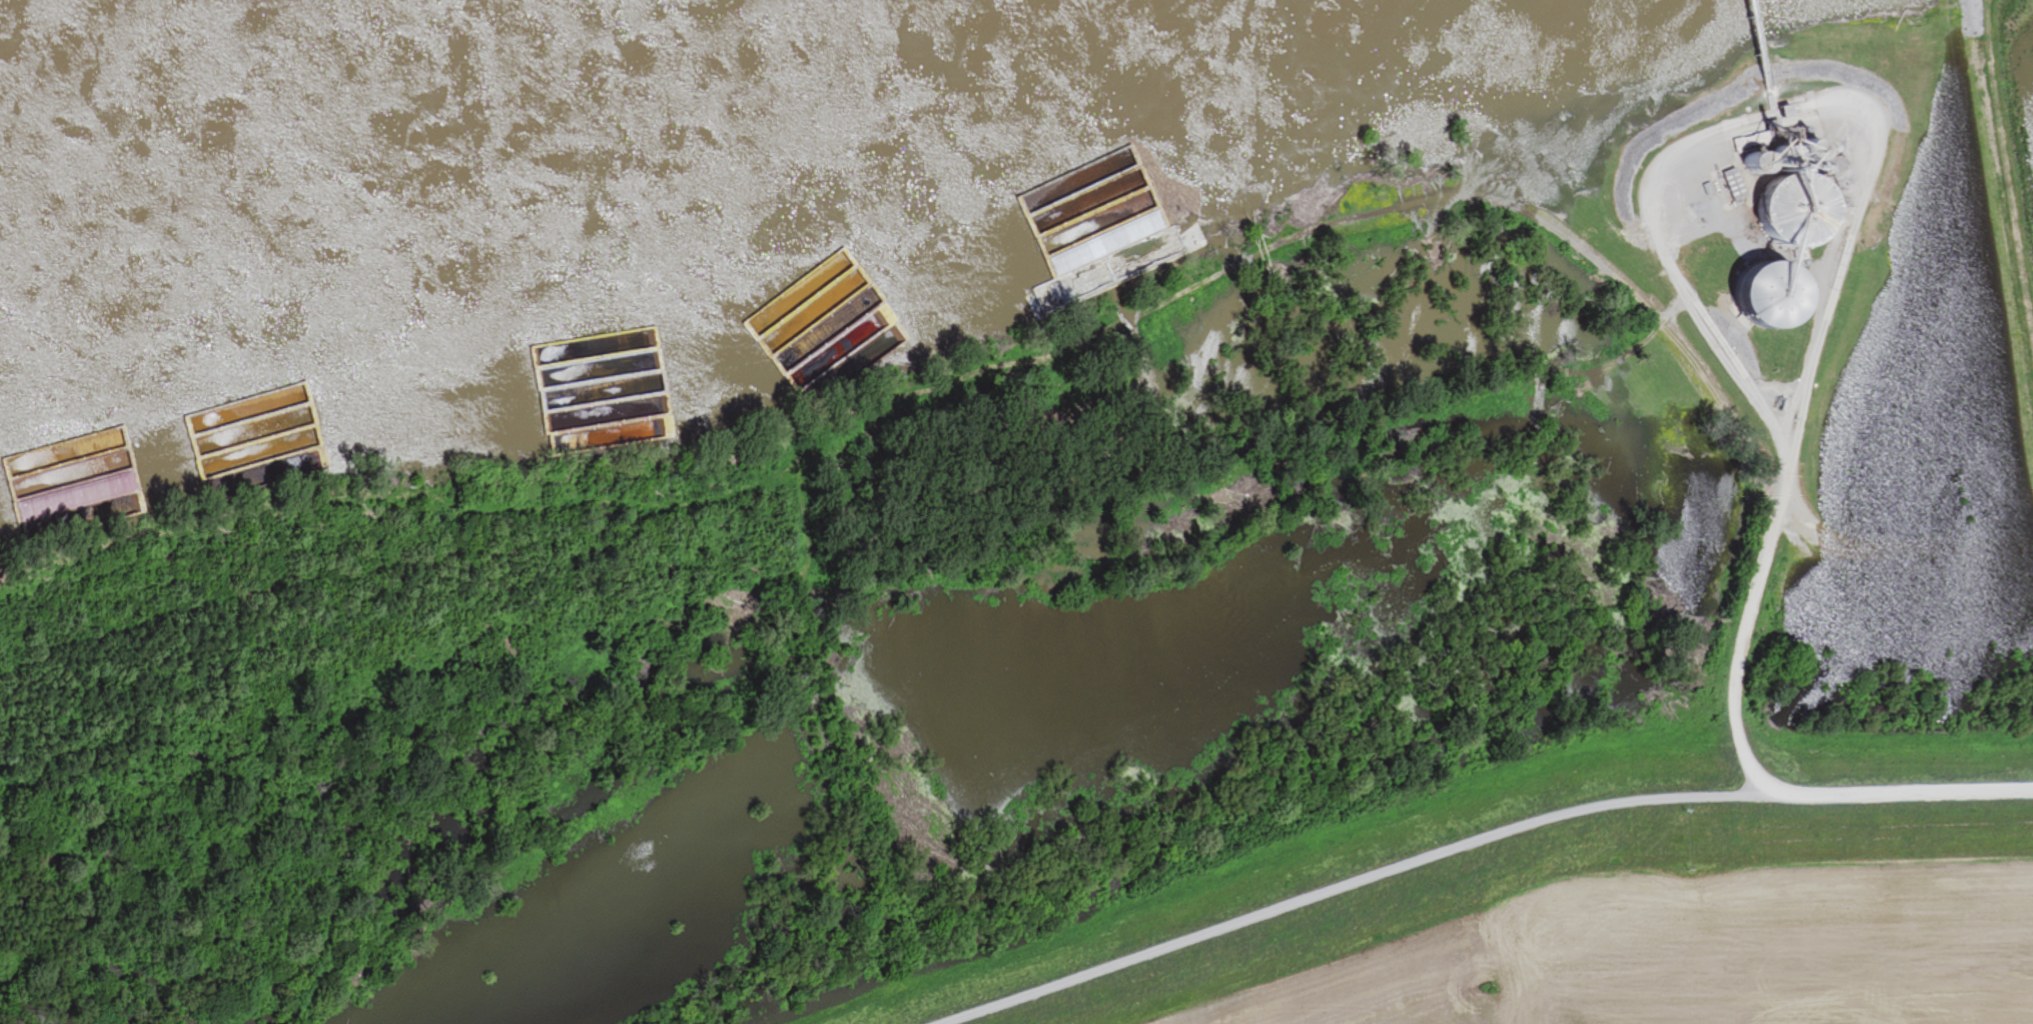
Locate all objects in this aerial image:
road: (1845, 267)
road: (1679, 283)
road: (929, 438)
road: (1795, 467)
road: (1902, 550)
road: (1748, 645)
road: (1474, 842)

